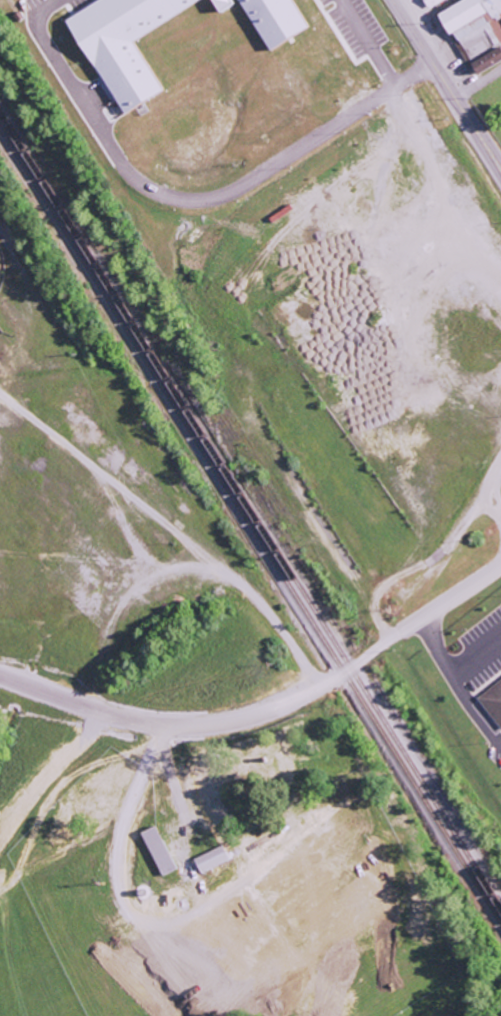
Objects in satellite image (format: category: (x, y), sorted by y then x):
building: (429, 2)
building: (218, 4)
building: (270, 20)
building: (474, 30)
building: (118, 43)
road: (477, 83)
road: (444, 84)
railway: (253, 516)
building: (492, 702)
road: (267, 710)
building: (156, 851)
building: (208, 859)

